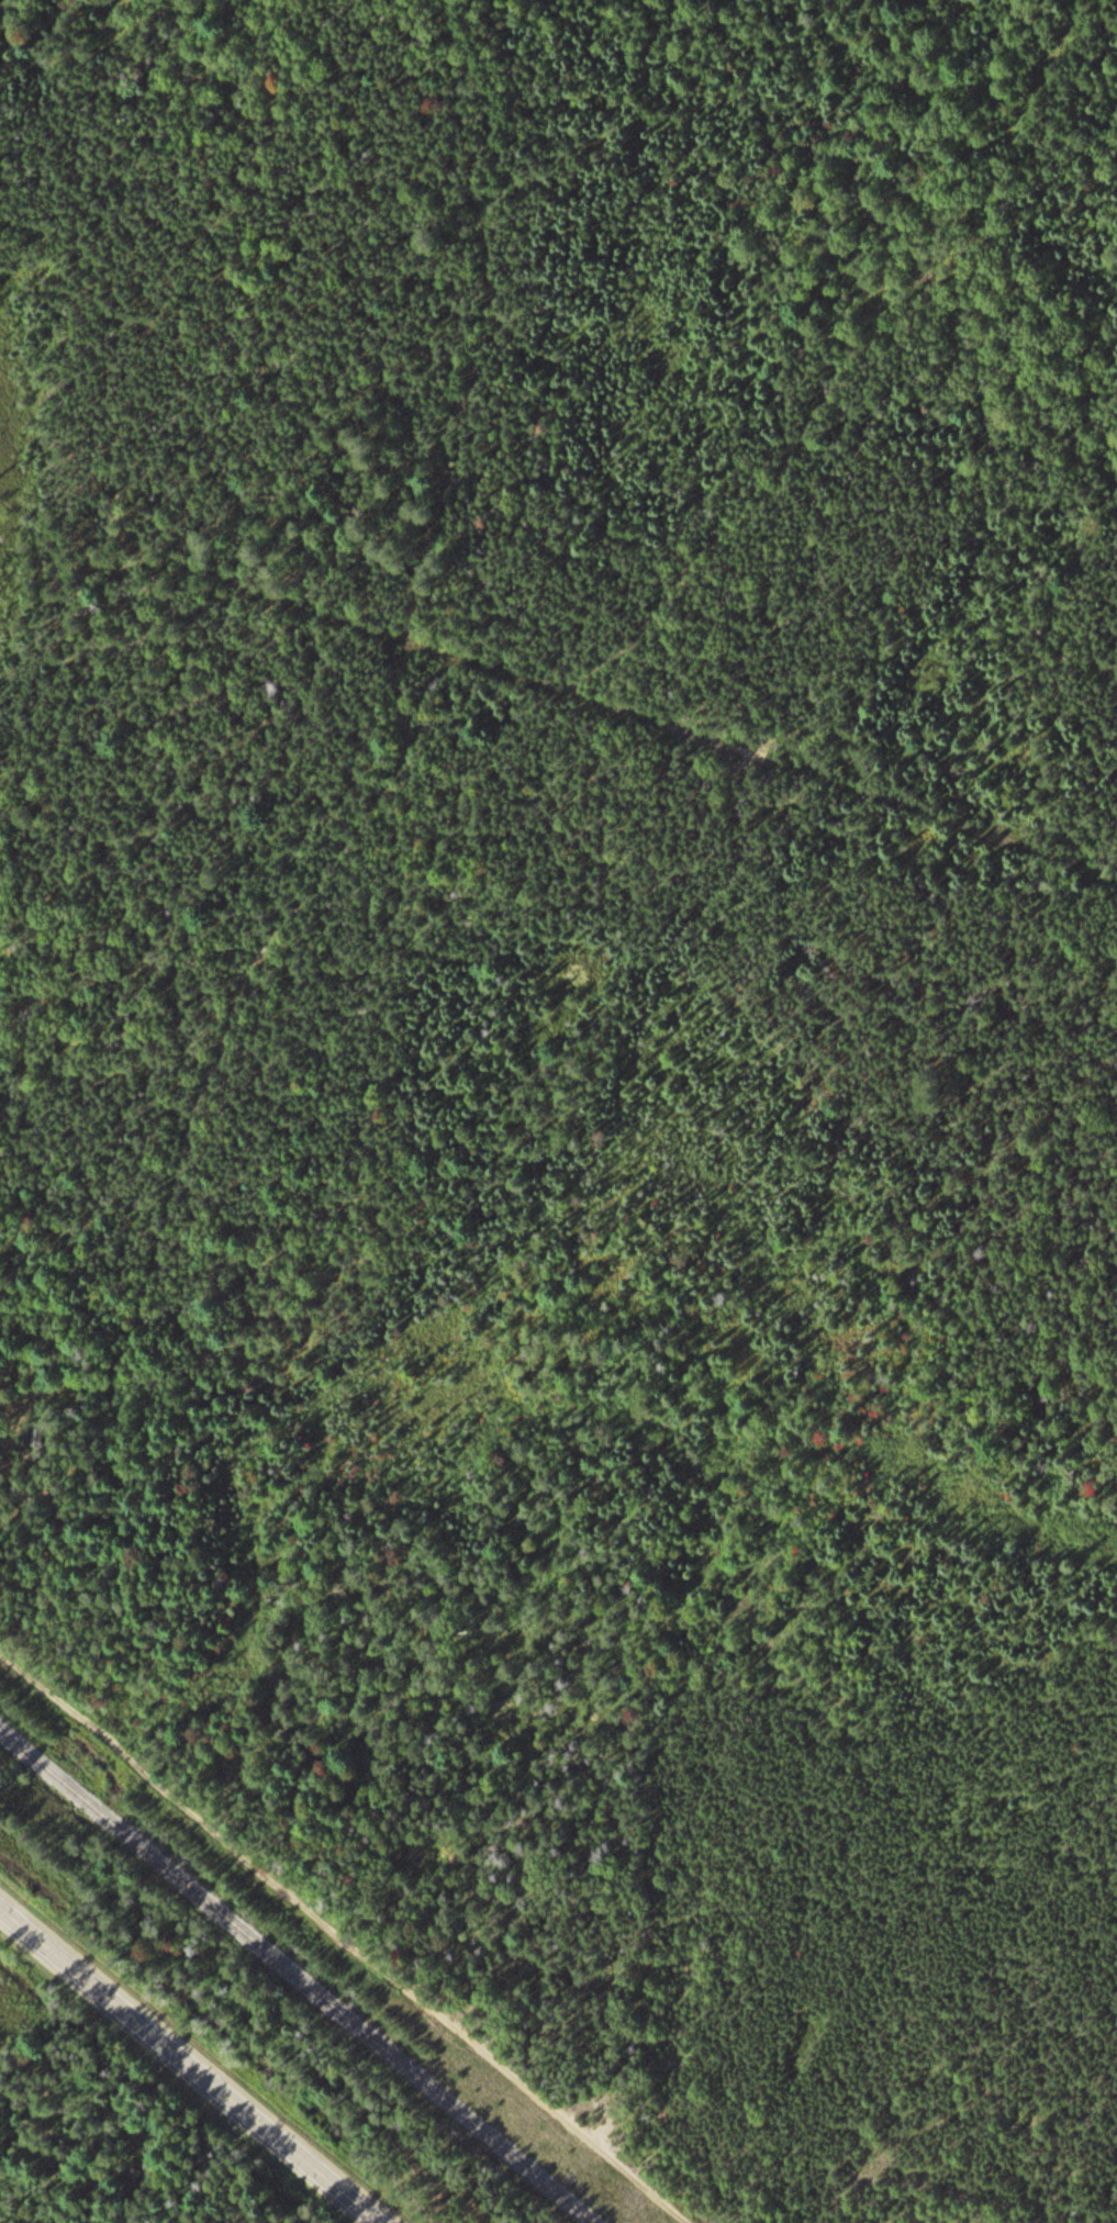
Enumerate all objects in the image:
road: (656, 727)
road: (334, 782)
road: (355, 1937)
railway: (300, 1973)
road: (199, 2062)

